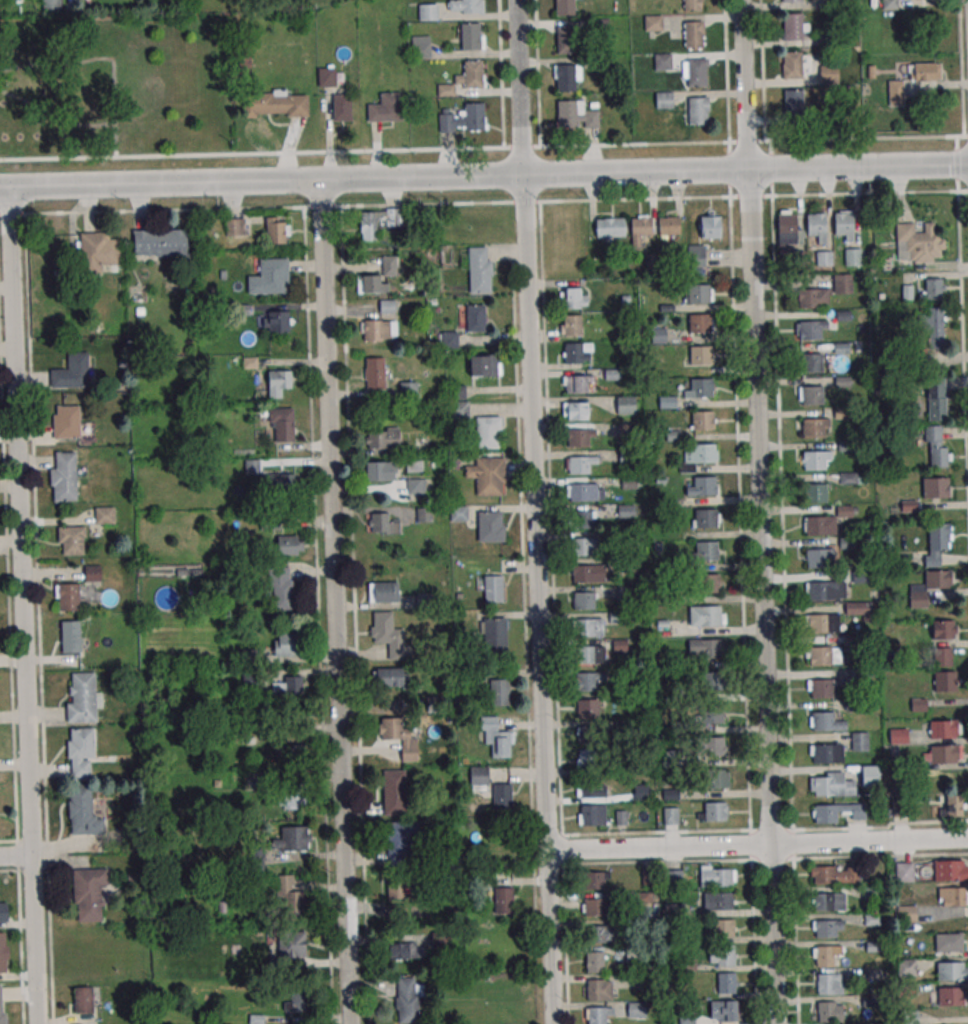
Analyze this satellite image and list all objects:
building: (788, 0)
building: (51, 4)
building: (836, 4)
building: (888, 4)
building: (691, 5)
building: (465, 6)
building: (563, 7)
building: (427, 11)
building: (652, 22)
building: (791, 26)
building: (692, 34)
building: (470, 36)
building: (841, 36)
building: (565, 39)
building: (420, 50)
road: (104, 56)
building: (662, 61)
building: (603, 64)
building: (791, 65)
road: (761, 70)
road: (726, 71)
building: (695, 72)
building: (472, 73)
road: (500, 73)
road: (537, 73)
building: (828, 75)
building: (327, 76)
building: (564, 77)
building: (911, 79)
park: (116, 84)
road: (745, 84)
building: (663, 100)
building: (793, 103)
building: (274, 104)
building: (342, 107)
building: (386, 108)
building: (696, 110)
building: (565, 113)
building: (473, 116)
road: (66, 121)
road: (483, 147)
road: (484, 176)
road: (483, 202)
building: (378, 221)
building: (709, 224)
building: (844, 224)
building: (669, 226)
building: (817, 226)
building: (235, 227)
building: (610, 228)
building: (640, 229)
building: (787, 231)
building: (277, 232)
building: (160, 242)
building: (917, 243)
building: (98, 251)
building: (445, 254)
building: (696, 255)
building: (852, 256)
building: (824, 258)
building: (480, 270)
building: (270, 277)
building: (378, 277)
building: (841, 283)
building: (931, 288)
building: (698, 293)
building: (573, 298)
building: (808, 298)
building: (387, 305)
building: (472, 317)
building: (278, 321)
building: (698, 323)
building: (571, 325)
building: (933, 327)
building: (378, 330)
building: (809, 330)
building: (660, 335)
building: (449, 339)
building: (577, 352)
building: (699, 355)
building: (810, 363)
building: (485, 365)
building: (70, 371)
building: (375, 373)
building: (279, 382)
building: (577, 383)
building: (700, 387)
building: (409, 389)
building: (811, 395)
building: (936, 399)
building: (626, 405)
building: (459, 410)
building: (576, 410)
building: (66, 419)
building: (701, 420)
building: (281, 424)
building: (812, 427)
building: (488, 432)
building: (580, 437)
building: (383, 438)
building: (936, 448)
building: (703, 453)
building: (813, 460)
building: (580, 463)
building: (380, 471)
building: (488, 475)
building: (849, 477)
building: (277, 481)
building: (416, 486)
building: (703, 486)
building: (63, 487)
building: (935, 487)
building: (585, 491)
building: (815, 492)
building: (625, 511)
road: (533, 512)
building: (457, 513)
building: (424, 514)
building: (104, 515)
building: (585, 518)
building: (704, 518)
building: (270, 523)
building: (382, 524)
building: (815, 525)
building: (491, 526)
building: (939, 537)
building: (71, 540)
building: (289, 545)
building: (584, 546)
building: (706, 550)
building: (816, 558)
building: (591, 572)
building: (92, 573)
building: (938, 579)
building: (707, 584)
building: (281, 587)
building: (493, 588)
building: (818, 591)
building: (383, 592)
building: (68, 596)
road: (762, 596)
building: (583, 600)
road: (336, 601)
road: (23, 605)
building: (857, 609)
building: (708, 614)
building: (820, 623)
building: (589, 627)
building: (943, 629)
building: (389, 635)
building: (69, 636)
building: (494, 636)
building: (286, 644)
building: (709, 648)
building: (592, 654)
building: (819, 656)
building: (942, 656)
building: (390, 677)
building: (588, 680)
building: (710, 681)
building: (945, 681)
building: (287, 686)
building: (820, 689)
building: (499, 692)
building: (81, 698)
building: (919, 704)
building: (588, 708)
building: (711, 713)
building: (821, 720)
building: (943, 729)
building: (398, 734)
building: (588, 735)
building: (898, 735)
building: (496, 737)
building: (859, 741)
building: (712, 746)
building: (81, 752)
building: (293, 754)
building: (823, 754)
building: (943, 754)
building: (669, 758)
building: (869, 775)
building: (715, 778)
building: (824, 786)
building: (491, 787)
building: (591, 789)
building: (394, 793)
building: (294, 796)
building: (951, 806)
building: (714, 811)
building: (83, 812)
building: (824, 814)
building: (592, 815)
building: (671, 817)
building: (292, 839)
building: (400, 840)
road: (758, 845)
road: (16, 855)
building: (255, 859)
building: (951, 870)
building: (904, 871)
building: (834, 874)
building: (716, 876)
building: (673, 878)
building: (596, 880)
building: (400, 890)
building: (88, 893)
building: (289, 896)
building: (952, 896)
building: (503, 900)
building: (716, 901)
building: (828, 901)
building: (596, 905)
building: (3, 911)
building: (906, 913)
building: (871, 919)
road: (753, 926)
road: (795, 926)
building: (723, 928)
building: (827, 928)
building: (601, 933)
building: (948, 942)
building: (292, 943)
building: (406, 950)
building: (3, 952)
building: (724, 955)
building: (824, 956)
building: (593, 962)
building: (905, 967)
building: (952, 970)
building: (725, 983)
building: (825, 984)
building: (595, 990)
building: (949, 995)
building: (84, 999)
building: (409, 1000)
building: (299, 1002)
building: (2, 1004)
building: (636, 1009)
building: (726, 1011)
building: (826, 1012)
building: (596, 1015)

